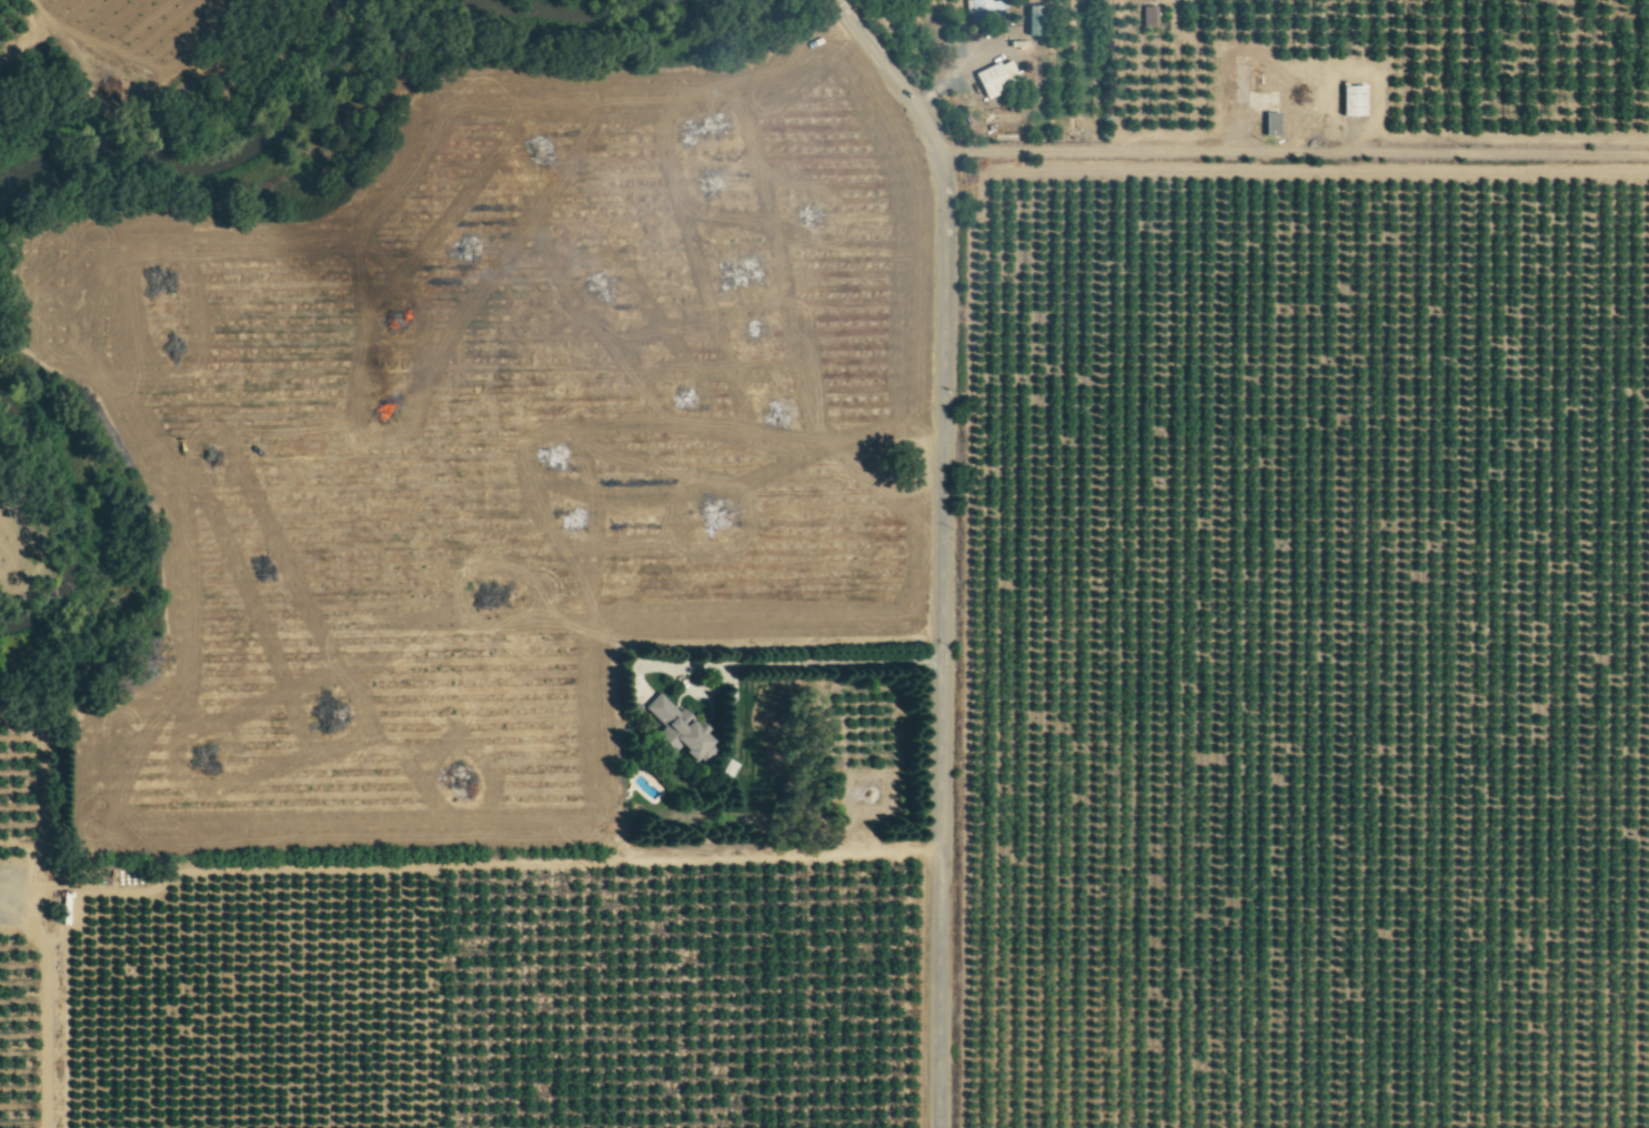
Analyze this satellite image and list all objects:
building: (984, 8)
building: (1146, 16)
building: (1030, 20)
building: (993, 77)
building: (1238, 85)
building: (1349, 100)
building: (1268, 123)
road: (1079, 153)
road: (942, 545)
road: (773, 662)
building: (676, 729)

